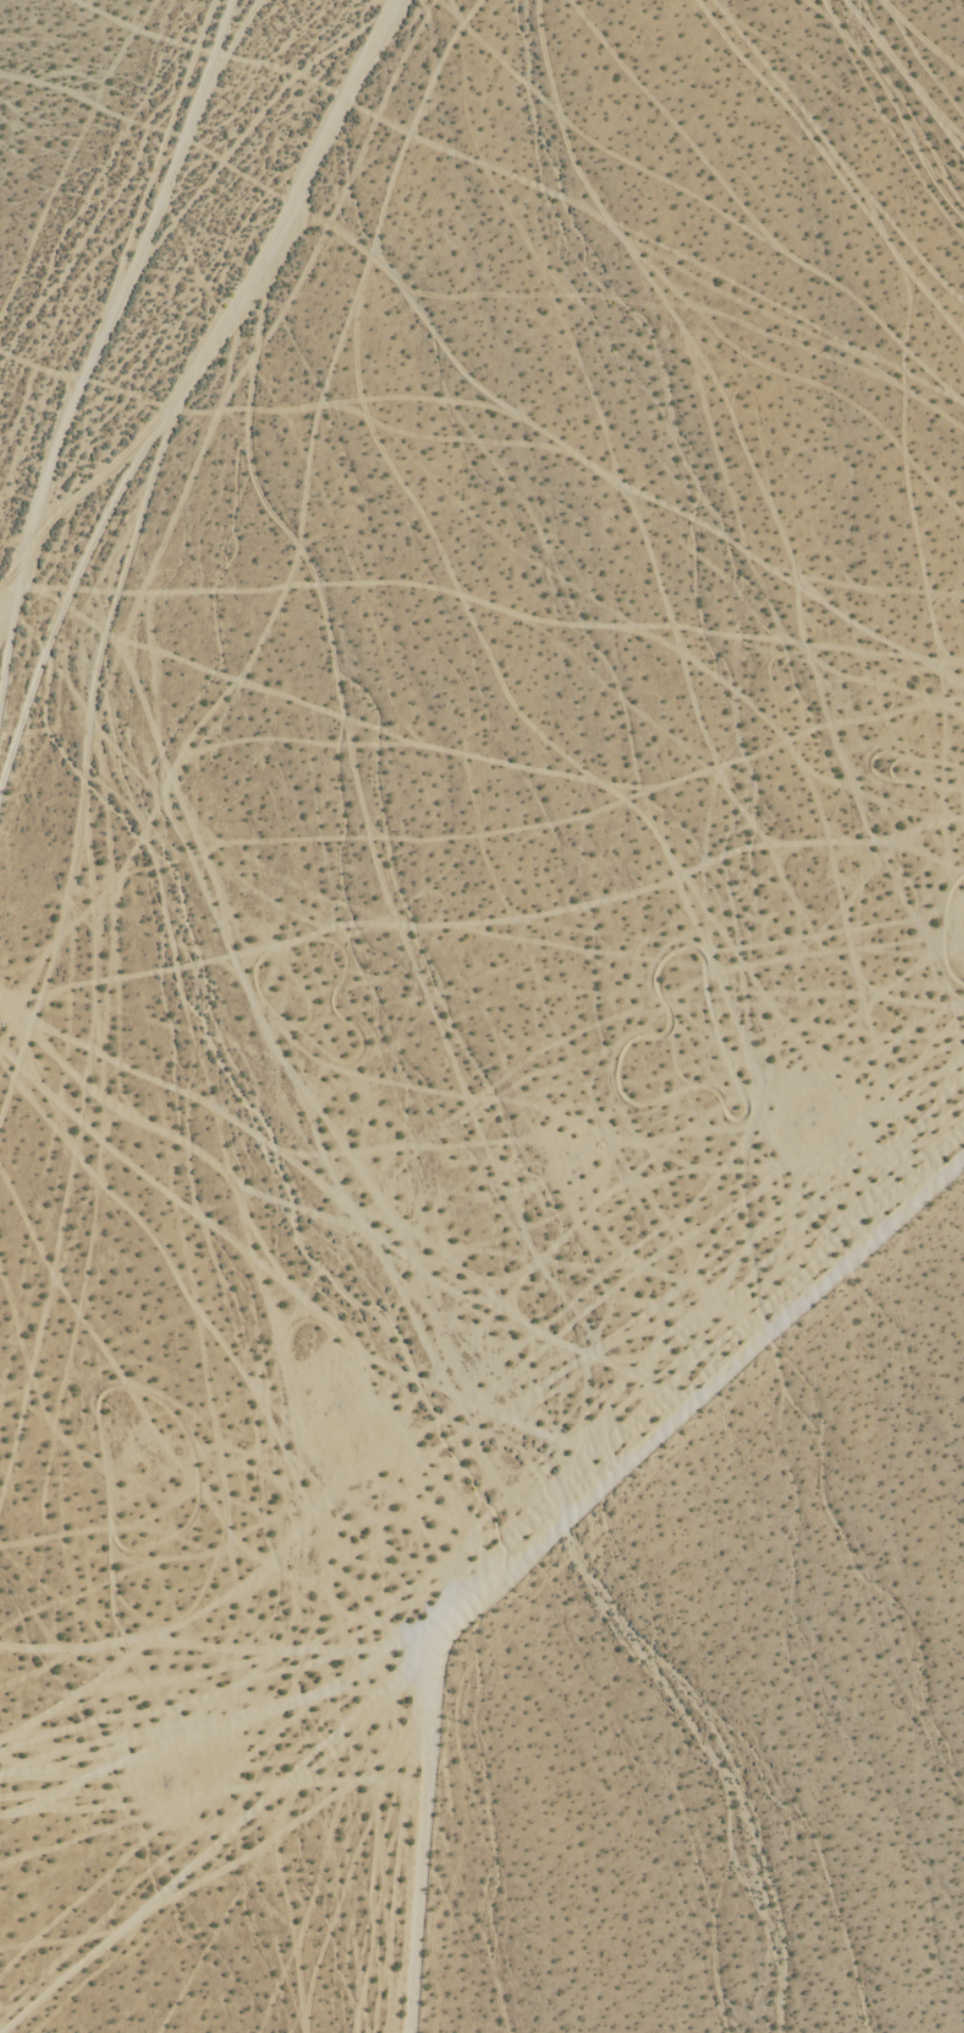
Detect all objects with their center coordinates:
road: (170, 415)
road: (557, 1535)

